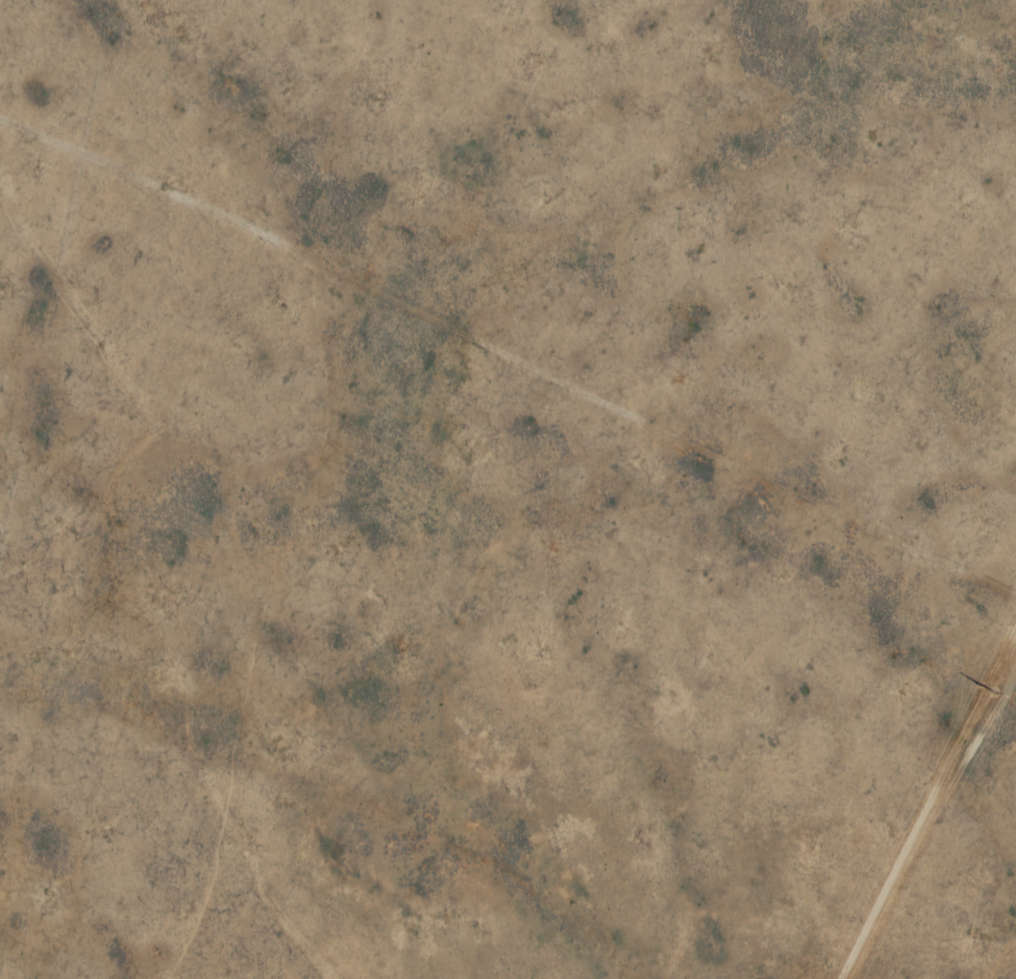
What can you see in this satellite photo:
road: (502, 275)
power tower: (986, 688)

